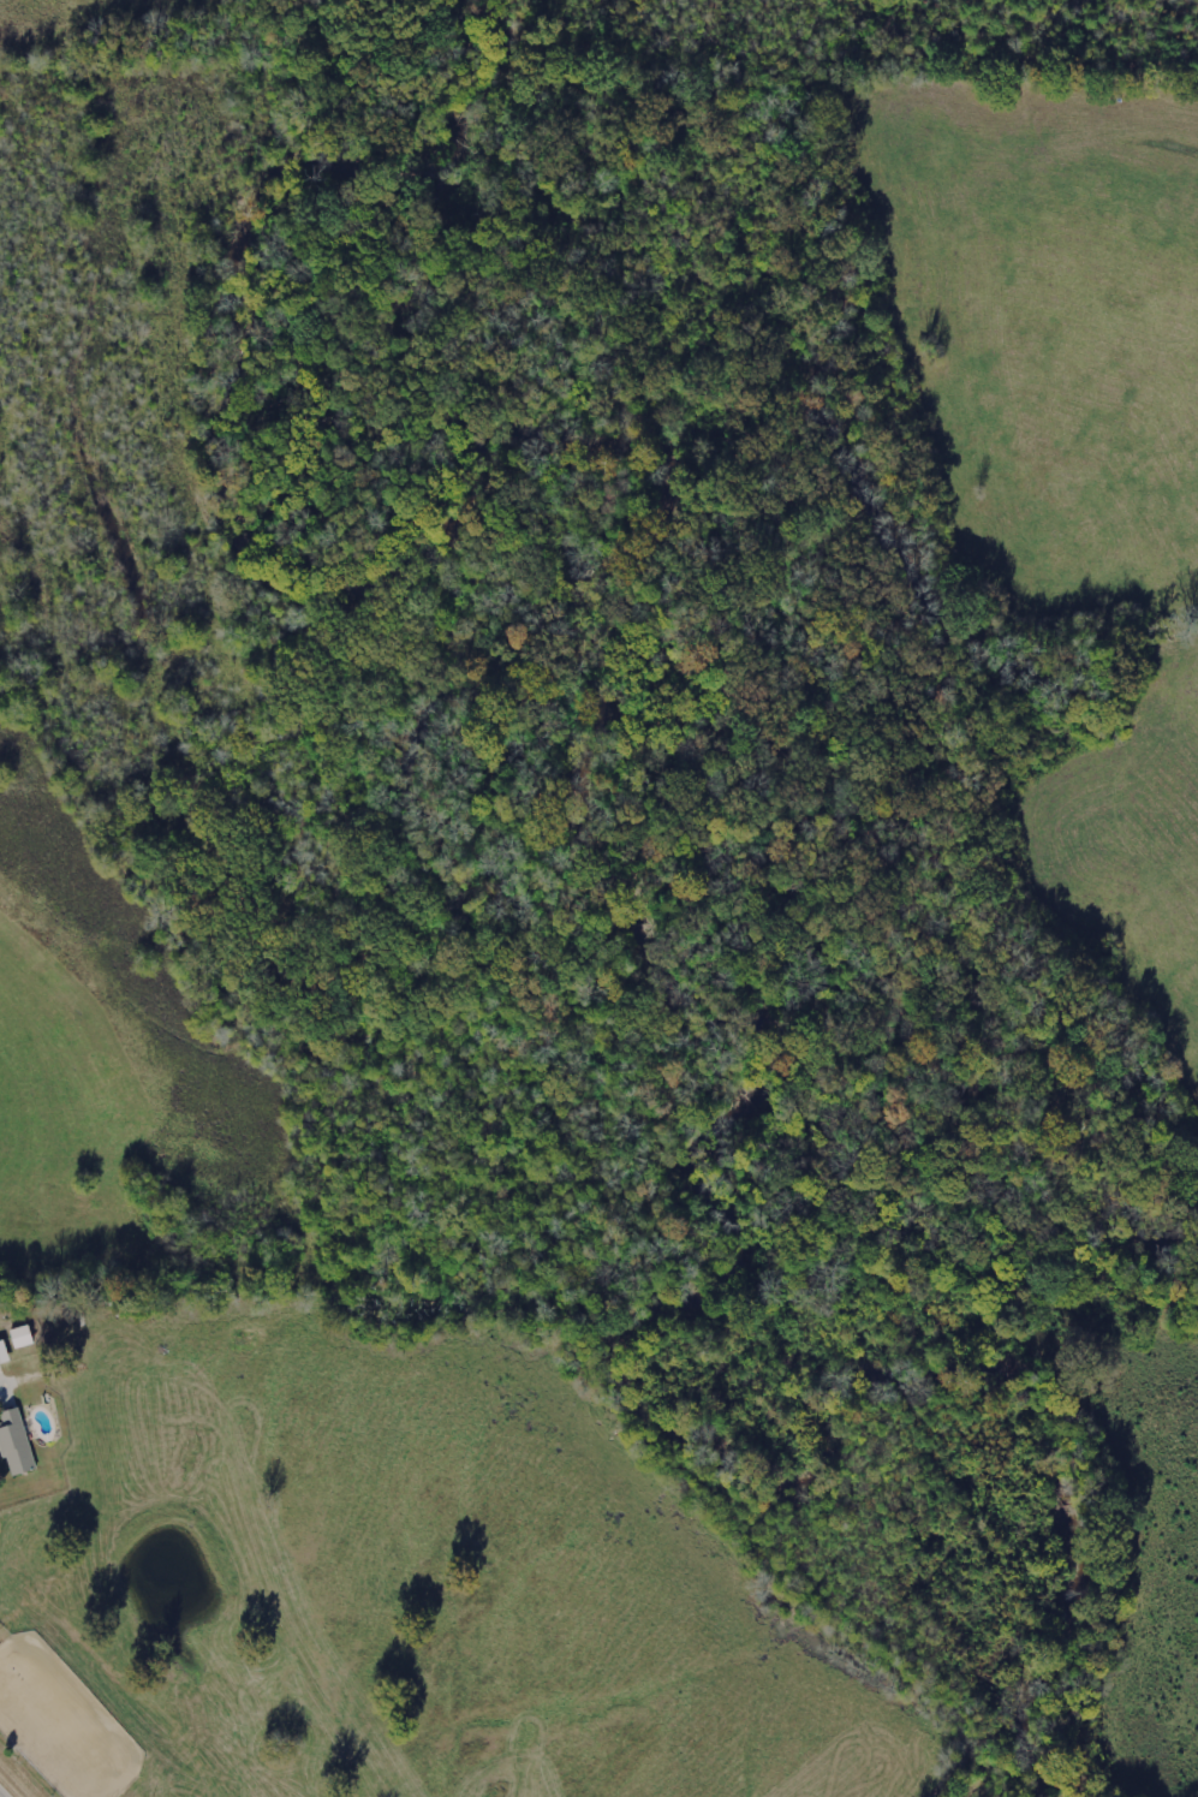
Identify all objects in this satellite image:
building: (20, 1339)
building: (2, 1353)
building: (14, 1444)
road: (0, 1796)

